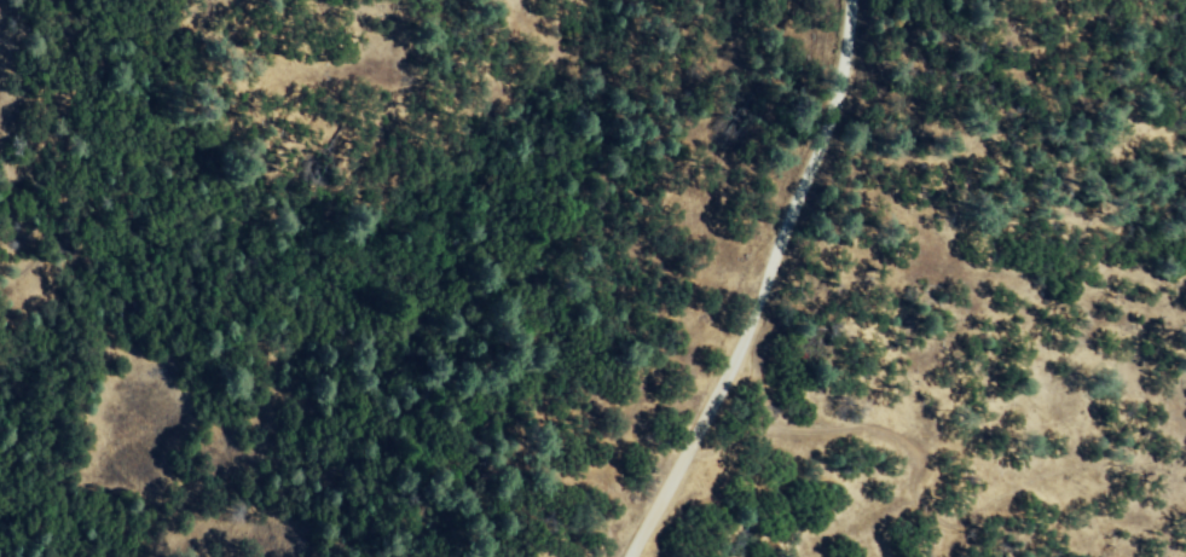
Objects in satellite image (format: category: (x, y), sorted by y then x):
road: (765, 285)
park: (108, 414)

